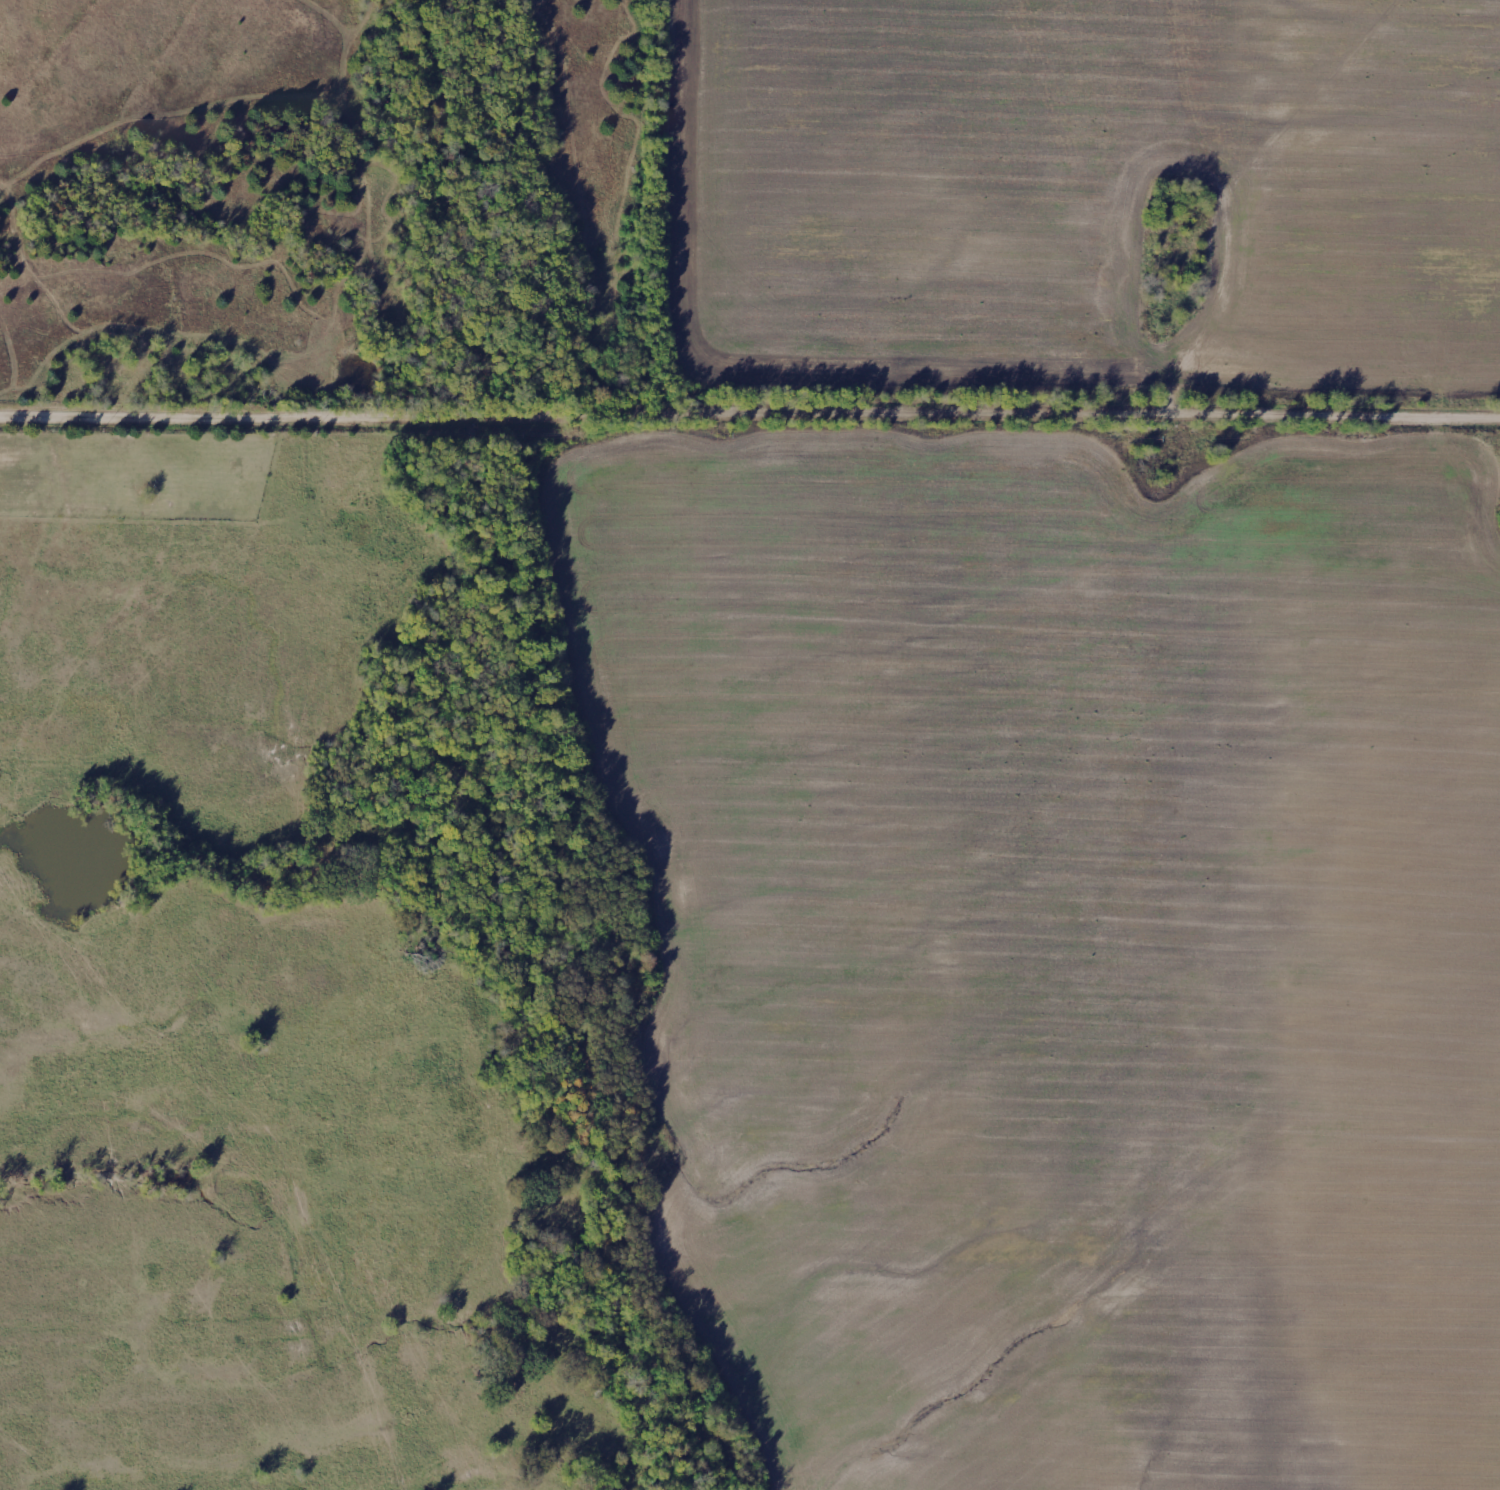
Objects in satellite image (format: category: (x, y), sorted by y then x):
road: (1144, 291)
road: (1213, 335)
road: (750, 403)

